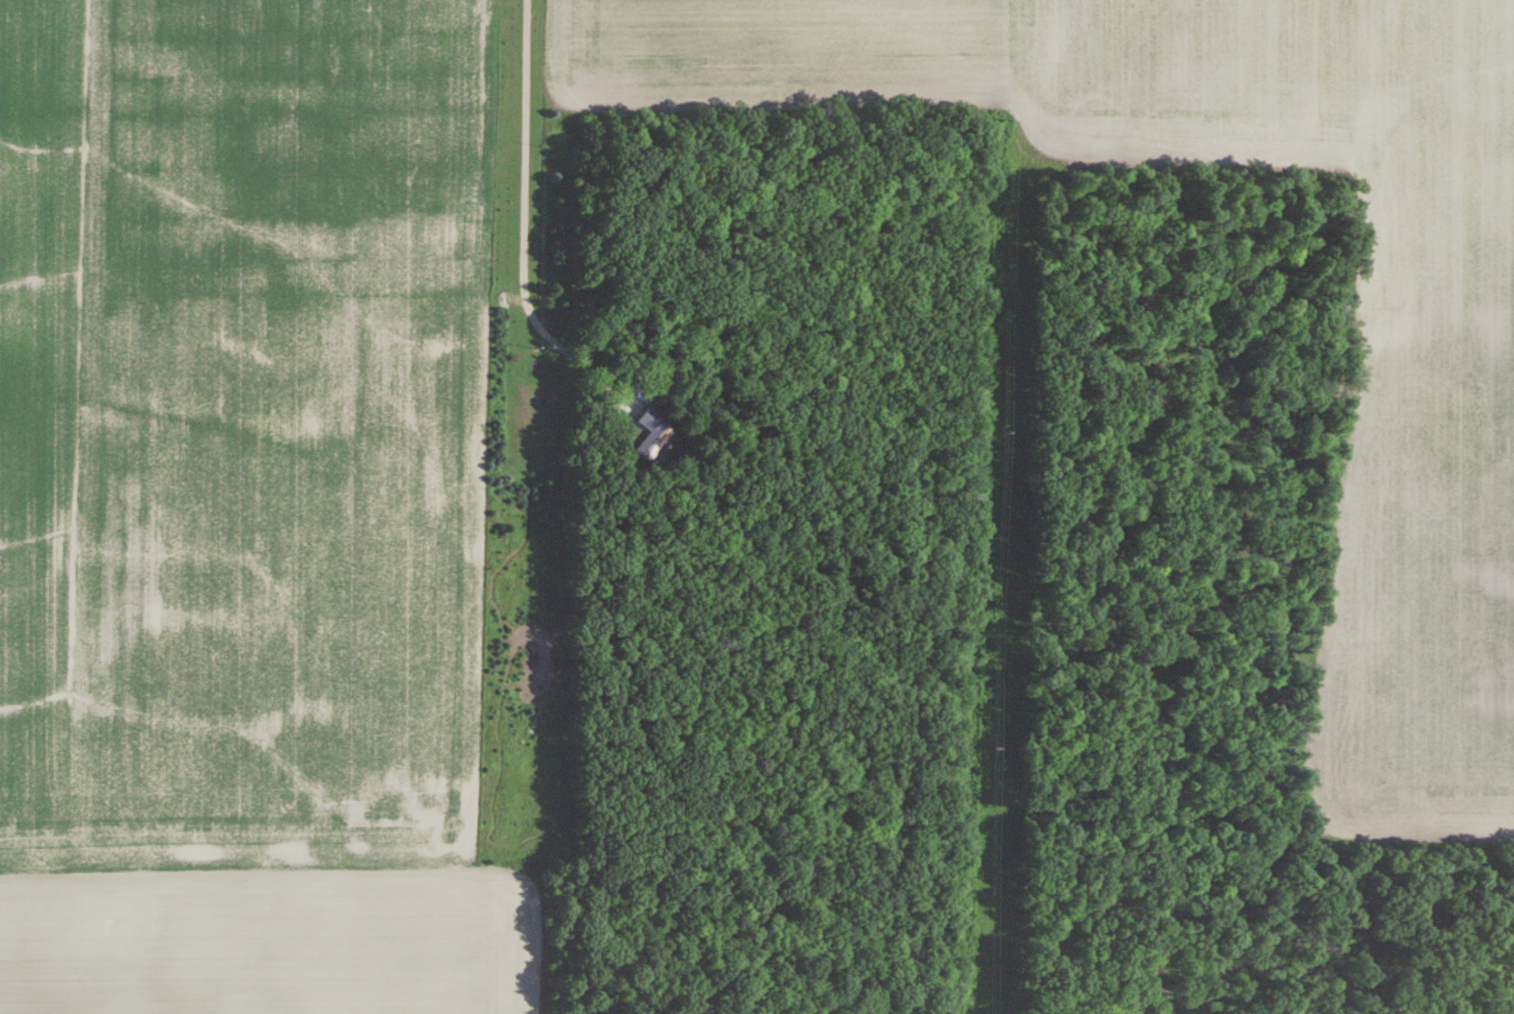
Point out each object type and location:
road: (524, 224)
building: (654, 437)

